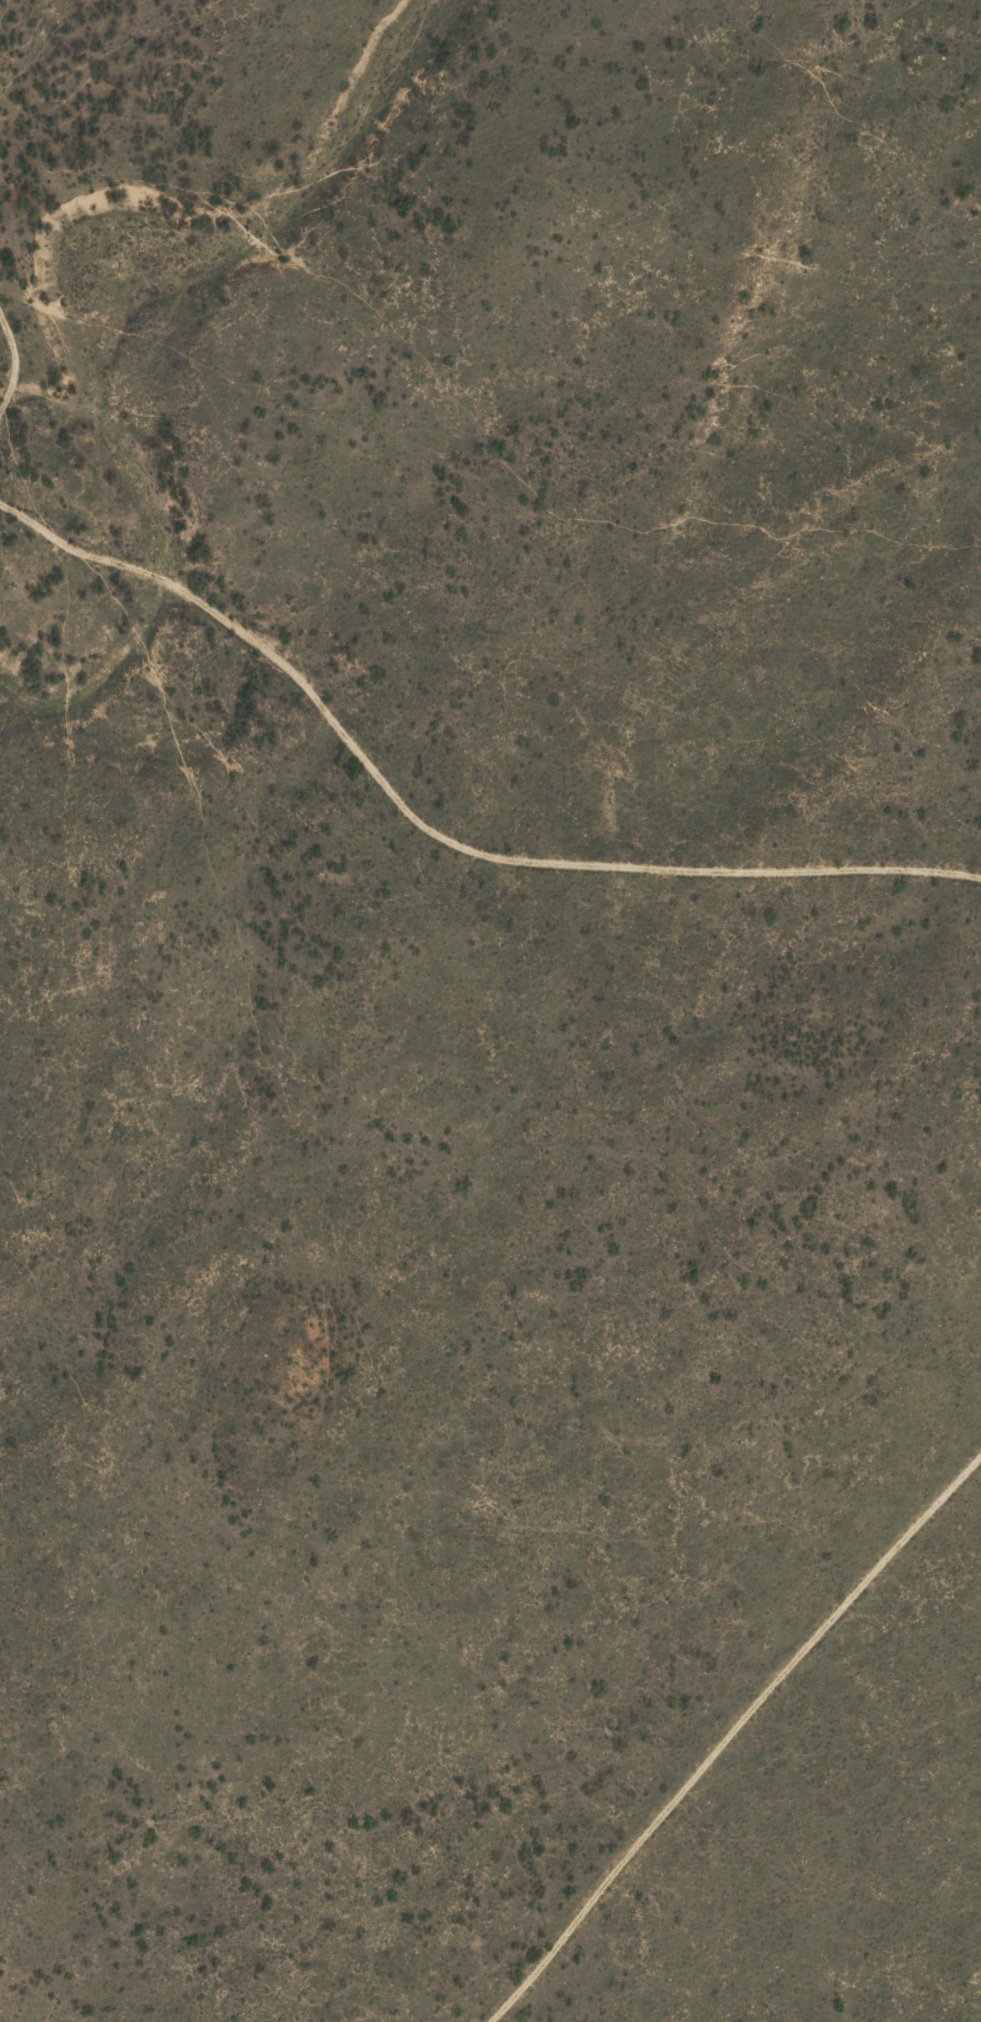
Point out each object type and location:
road: (13, 384)
road: (441, 825)
road: (747, 1755)

